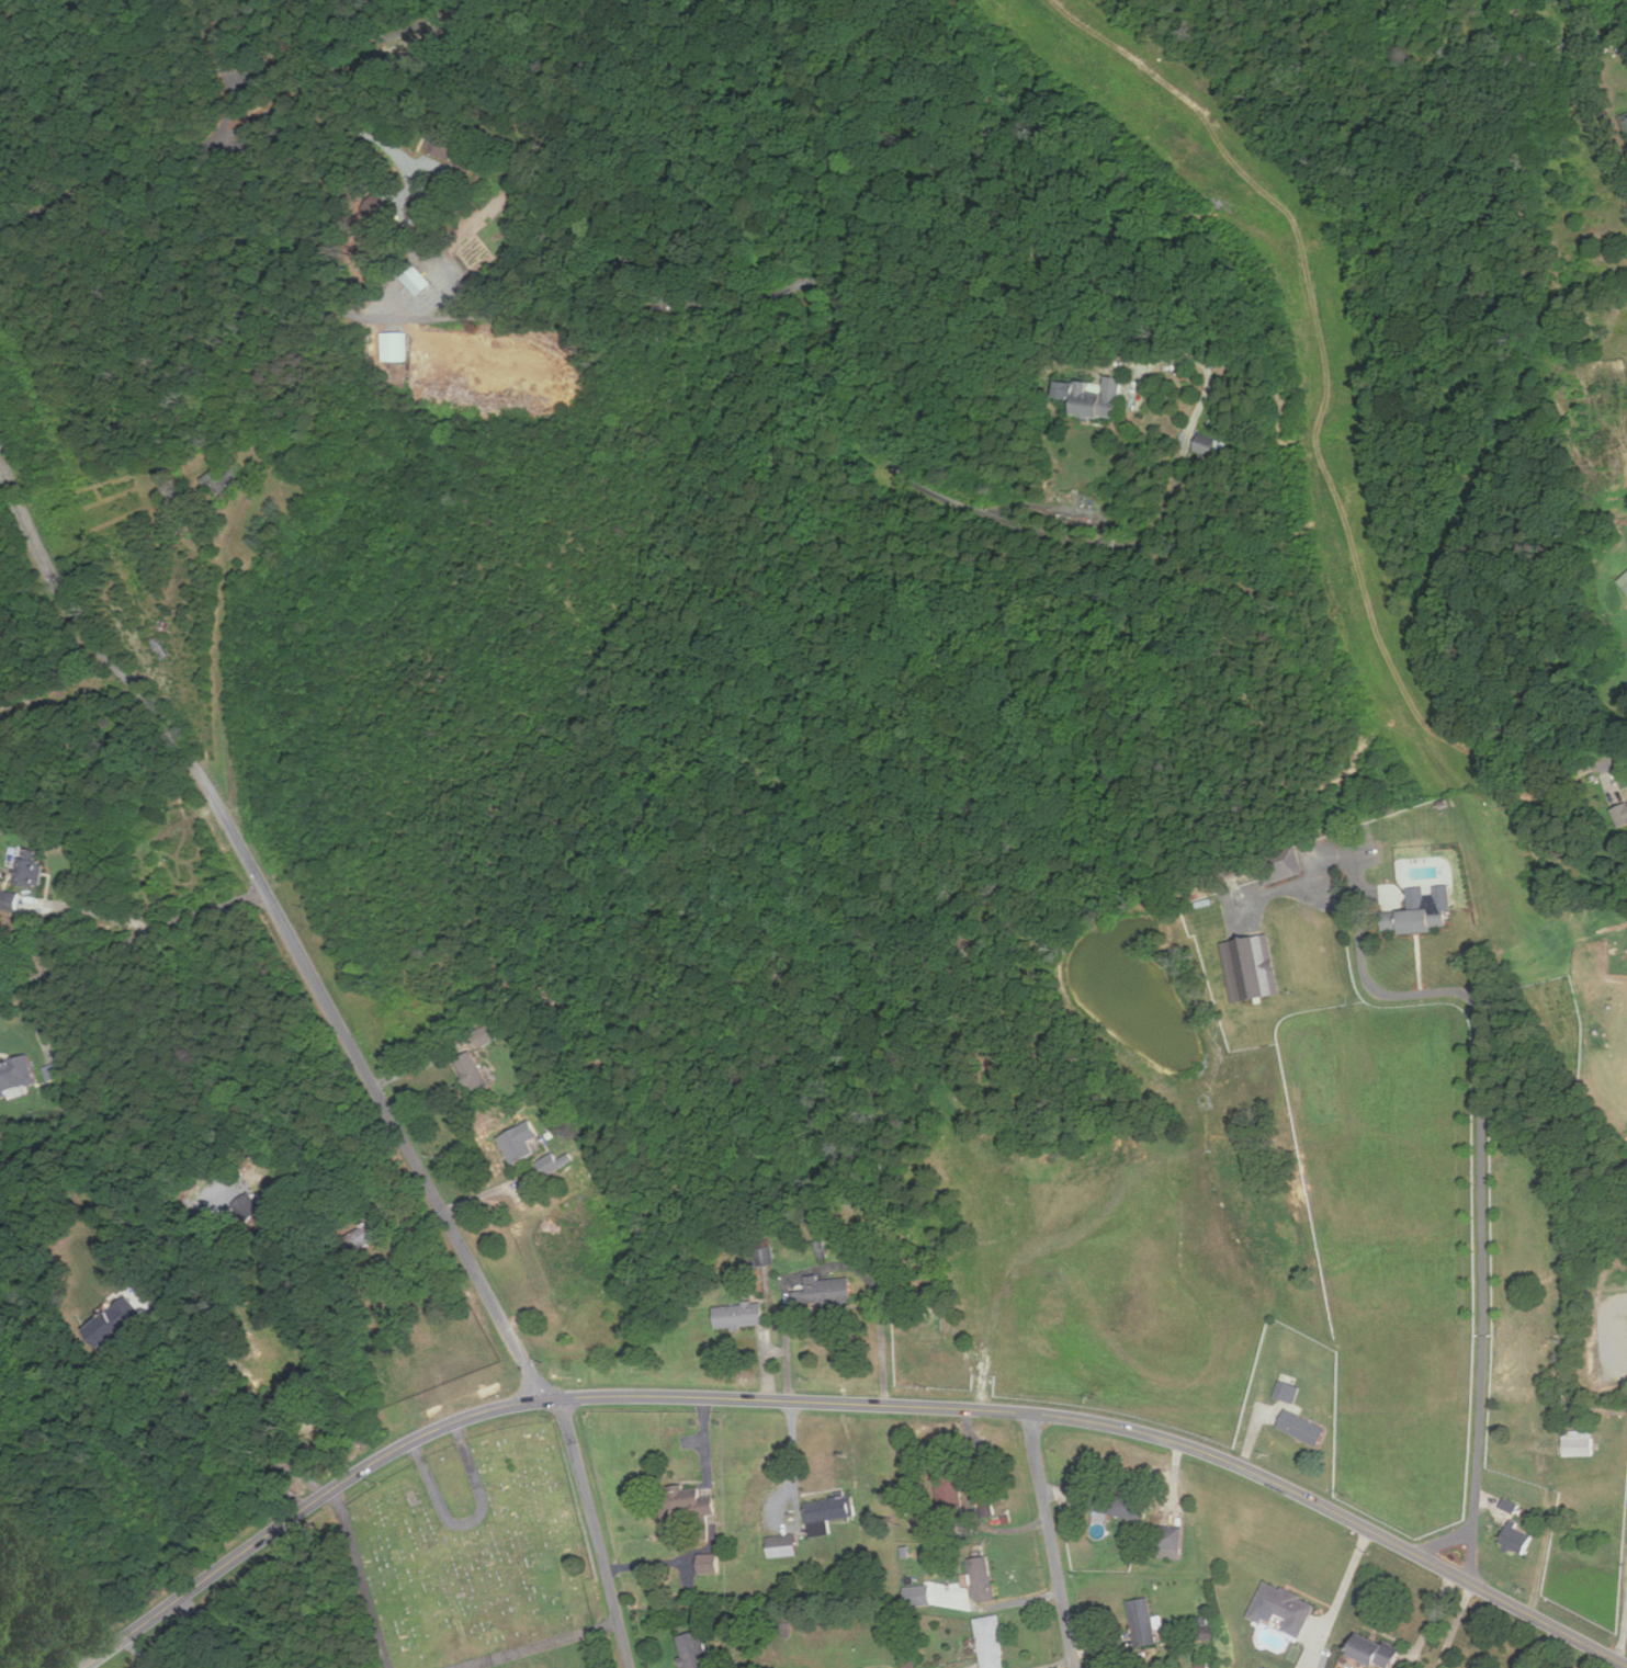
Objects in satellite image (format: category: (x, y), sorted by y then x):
building: (10, 9)
road: (355, 45)
road: (231, 70)
building: (1626, 118)
building: (456, 149)
road: (195, 150)
building: (420, 281)
road: (833, 295)
building: (398, 347)
building: (1097, 396)
building: (1214, 444)
building: (225, 481)
building: (1623, 581)
building: (163, 648)
road: (1615, 761)
building: (1619, 813)
building: (1281, 865)
building: (31, 869)
building: (9, 899)
road: (55, 903)
building: (1415, 917)
road: (280, 921)
road: (132, 942)
building: (1252, 967)
building: (487, 1036)
building: (474, 1074)
building: (18, 1076)
building: (518, 1142)
building: (556, 1162)
road: (1481, 1166)
building: (249, 1207)
building: (366, 1236)
building: (764, 1252)
building: (826, 1293)
building: (742, 1316)
building: (117, 1324)
road: (200, 1368)
building: (289, 1383)
building: (1289, 1387)
road: (845, 1403)
building: (1301, 1427)
building: (1575, 1443)
road: (793, 1454)
building: (949, 1494)
building: (686, 1501)
building: (1118, 1504)
building: (1509, 1505)
building: (828, 1512)
road: (468, 1517)
road: (596, 1532)
building: (1514, 1539)
road: (1051, 1541)
building: (1174, 1542)
building: (781, 1545)
park: (475, 1558)
building: (708, 1563)
road: (360, 1578)
building: (984, 1578)
road: (1346, 1579)
building: (917, 1595)
building: (1279, 1608)
building: (1140, 1621)
building: (987, 1642)
road: (529, 1643)
building: (692, 1649)
building: (1369, 1649)
building: (908, 1665)

